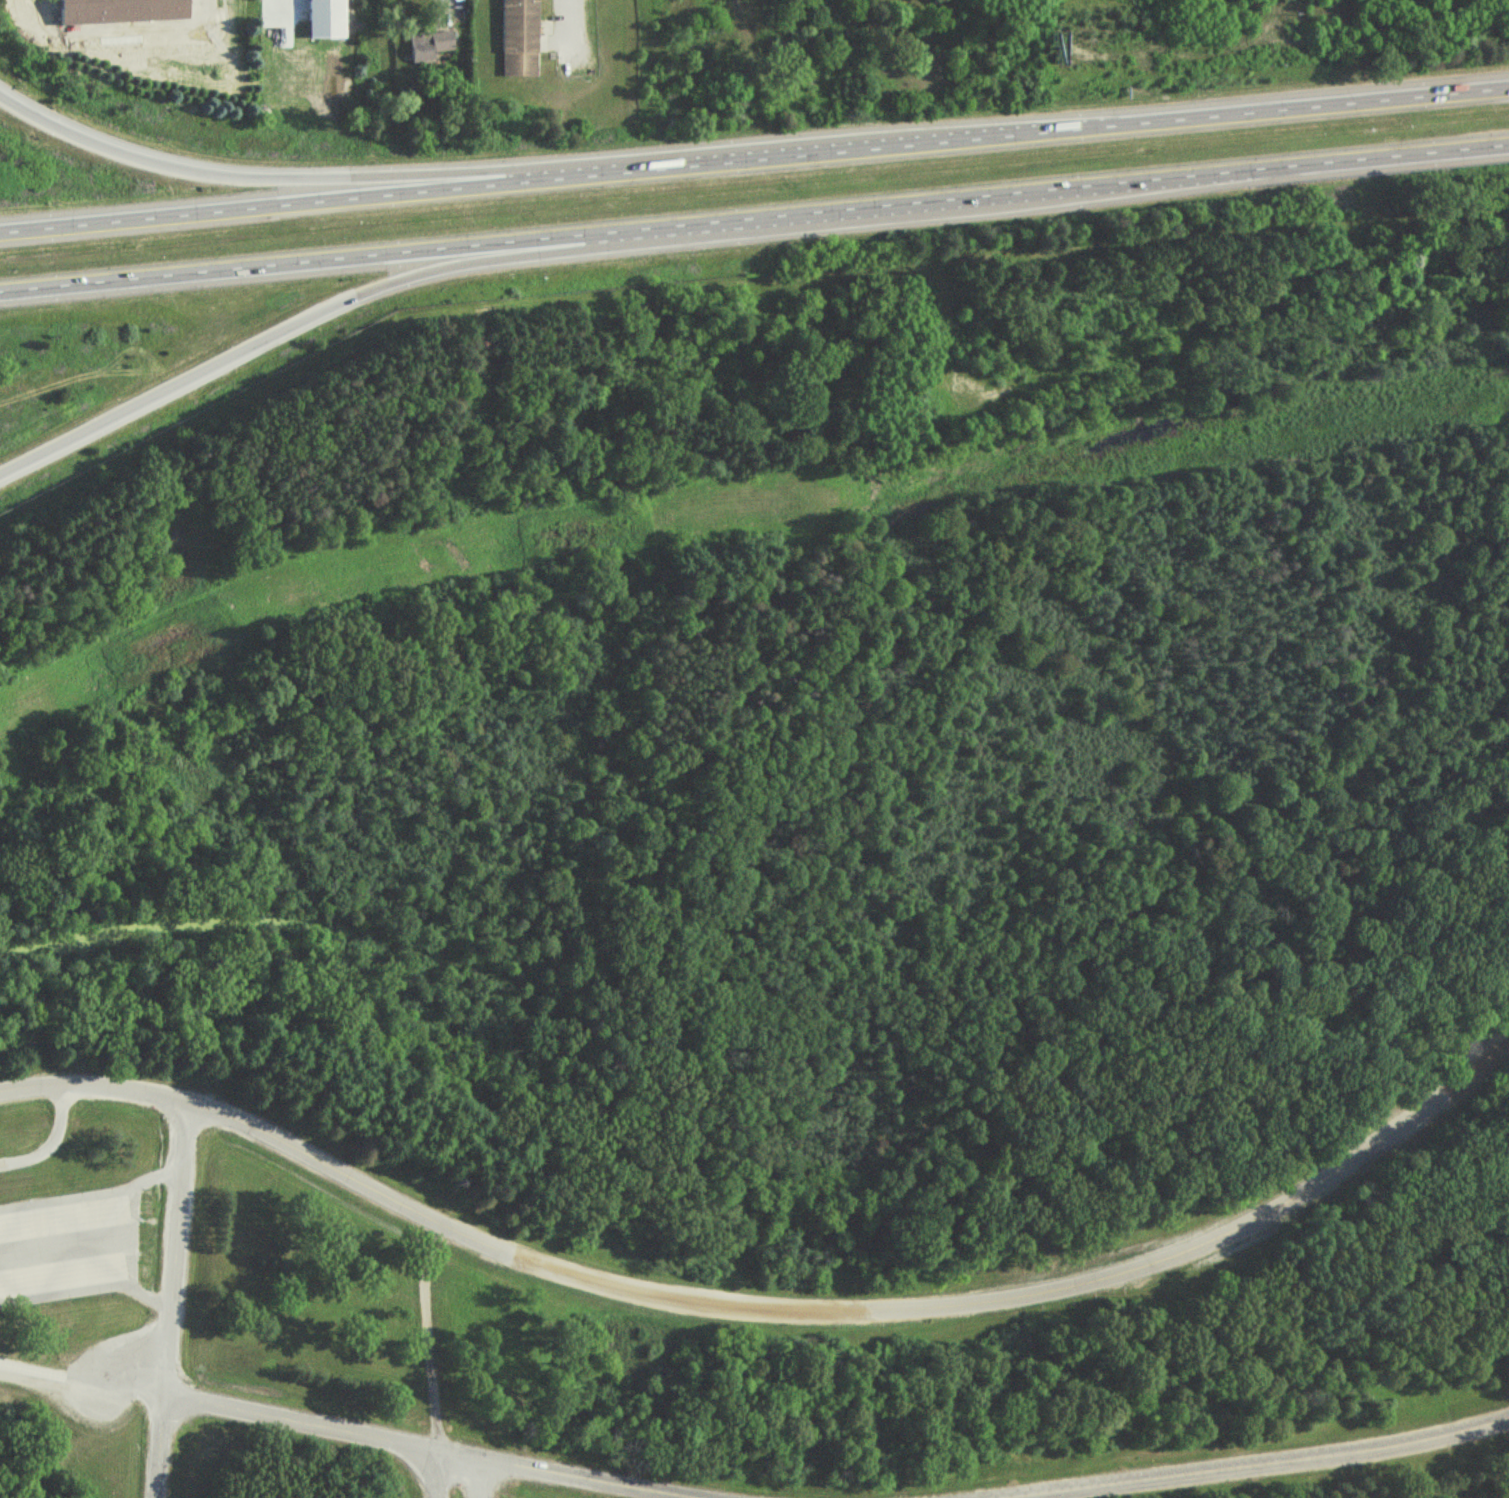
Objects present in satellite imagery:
road: (441, 3)
building: (119, 10)
building: (519, 40)
building: (428, 47)
road: (754, 161)
road: (294, 179)
road: (754, 218)
road: (319, 314)
road: (173, 1270)
raceway: (768, 1309)
road: (82, 1382)
raceway: (273, 1417)
road: (1271, 1466)
road: (527, 1468)
road: (467, 1476)

